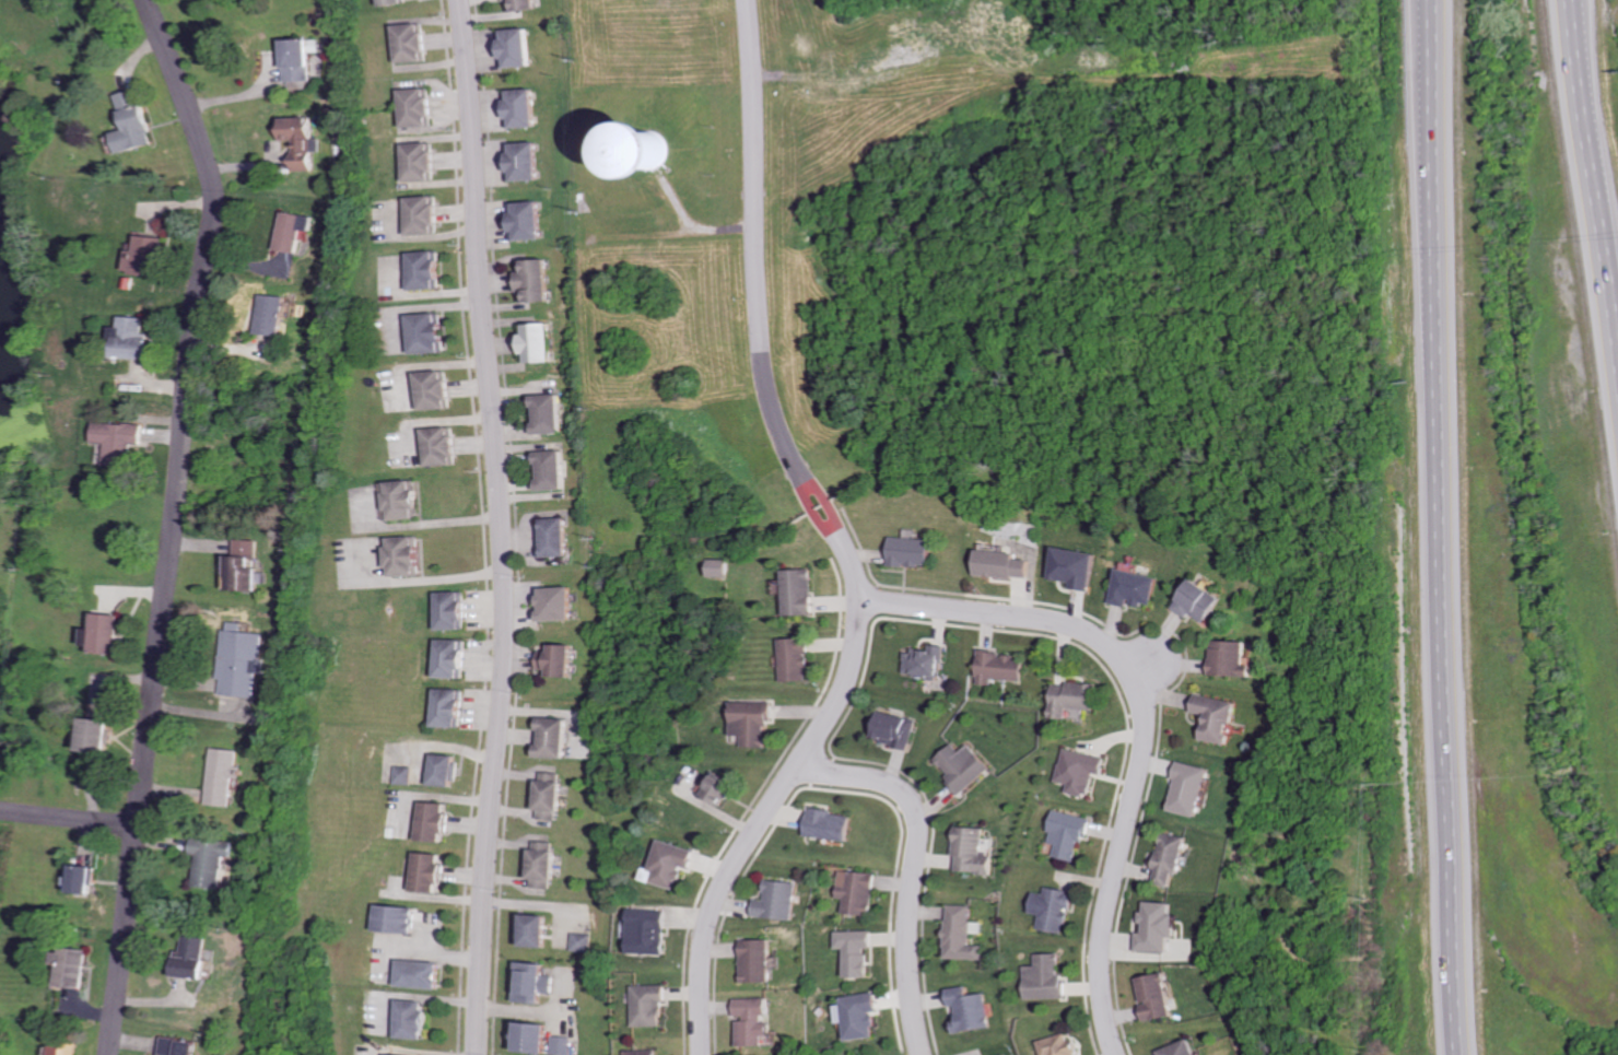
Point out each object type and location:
building: (394, 2)
building: (520, 5)
building: (410, 43)
building: (515, 48)
building: (300, 60)
road: (1584, 65)
building: (415, 107)
building: (519, 107)
building: (134, 124)
building: (303, 141)
building: (668, 153)
water tower: (649, 155)
building: (420, 162)
building: (521, 162)
road: (1593, 190)
building: (424, 215)
building: (526, 221)
building: (295, 231)
road: (755, 231)
building: (150, 256)
building: (429, 270)
building: (534, 281)
building: (275, 315)
building: (431, 333)
building: (136, 339)
building: (537, 343)
building: (435, 390)
building: (546, 414)
building: (124, 441)
building: (439, 446)
building: (550, 471)
road: (821, 499)
building: (402, 501)
road: (808, 506)
road: (175, 523)
road: (436, 524)
road: (495, 526)
road: (1440, 527)
building: (555, 538)
building: (913, 552)
building: (404, 558)
building: (1007, 565)
building: (245, 567)
building: (720, 567)
building: (1077, 568)
road: (441, 578)
building: (1136, 589)
building: (800, 593)
building: (1201, 602)
building: (559, 605)
building: (453, 611)
building: (106, 634)
building: (453, 659)
building: (796, 660)
building: (1232, 660)
building: (241, 661)
building: (561, 661)
building: (926, 663)
road: (1139, 667)
building: (1000, 668)
building: (1074, 699)
building: (453, 708)
building: (1219, 718)
road: (1144, 720)
building: (753, 724)
building: (894, 729)
building: (102, 737)
building: (559, 739)
building: (965, 766)
building: (449, 771)
building: (1080, 772)
building: (407, 775)
building: (223, 776)
building: (719, 787)
building: (1193, 789)
building: (556, 797)
road: (777, 798)
road: (70, 819)
building: (441, 822)
building: (833, 825)
building: (1068, 835)
building: (976, 852)
building: (1173, 859)
building: (211, 861)
building: (548, 865)
building: (671, 865)
road: (917, 867)
building: (436, 872)
building: (89, 880)
building: (863, 892)
building: (781, 901)
building: (1054, 910)
building: (406, 917)
building: (1161, 928)
building: (537, 931)
building: (649, 931)
building: (966, 934)
building: (582, 942)
building: (861, 952)
building: (194, 958)
building: (760, 962)
building: (75, 966)
building: (427, 973)
building: (1046, 977)
building: (535, 982)
building: (1158, 998)
building: (650, 1005)
building: (973, 1011)
building: (865, 1016)
building: (419, 1018)
building: (758, 1020)
building: (562, 1045)
building: (1058, 1045)
building: (183, 1046)
building: (68, 1048)
building: (1183, 1048)
building: (646, 1052)
building: (397, 1054)

